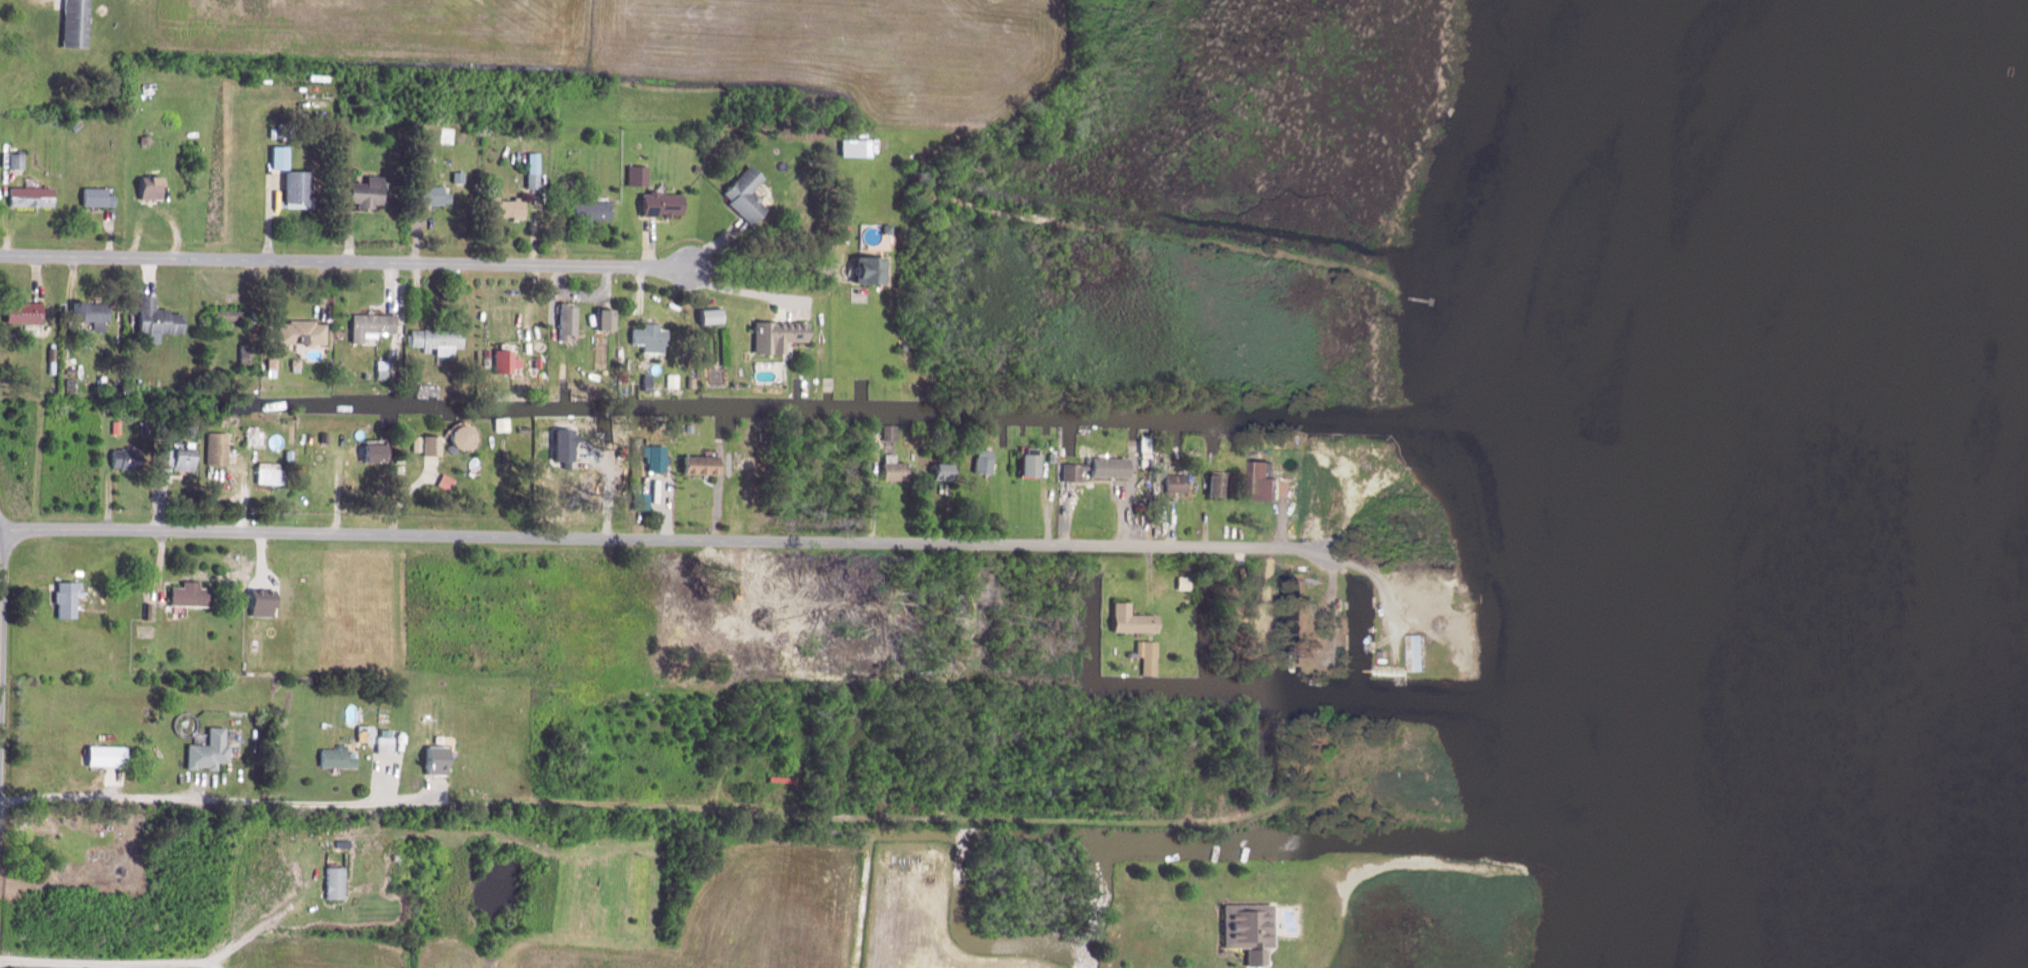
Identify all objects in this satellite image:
park: (256, 6)
building: (76, 22)
crop: (670, 44)
building: (76, 127)
building: (286, 131)
building: (446, 135)
building: (145, 139)
building: (858, 147)
building: (282, 157)
building: (18, 161)
building: (698, 168)
building: (535, 172)
building: (639, 175)
building: (460, 177)
building: (565, 183)
building: (298, 187)
building: (153, 188)
building: (369, 192)
building: (433, 195)
building: (749, 195)
building: (33, 196)
building: (99, 198)
building: (664, 204)
building: (510, 207)
road: (6, 208)
building: (591, 210)
road: (155, 211)
road: (270, 216)
building: (889, 228)
road: (535, 229)
road: (347, 231)
road: (416, 234)
road: (112, 235)
road: (565, 236)
road: (648, 242)
road: (716, 243)
road: (345, 260)
road: (763, 268)
building: (873, 269)
road: (148, 274)
road: (36, 277)
road: (392, 287)
road: (251, 289)
road: (323, 289)
road: (416, 291)
road: (745, 291)
road: (640, 294)
road: (70, 295)
road: (584, 297)
pier: (1416, 297)
road: (534, 300)
road: (555, 301)
building: (25, 313)
building: (93, 314)
building: (226, 314)
building: (713, 317)
building: (158, 319)
building: (609, 319)
building: (569, 321)
building: (373, 324)
building: (303, 332)
road: (401, 334)
building: (779, 336)
building: (652, 337)
building: (441, 338)
building: (487, 352)
building: (248, 354)
building: (53, 360)
building: (507, 361)
building: (273, 363)
building: (296, 363)
building: (538, 363)
building: (71, 370)
building: (382, 370)
road: (564, 376)
building: (648, 380)
building: (673, 381)
building: (692, 382)
pier: (634, 387)
building: (428, 389)
road: (394, 393)
building: (504, 425)
building: (117, 427)
building: (690, 428)
building: (526, 430)
building: (890, 433)
road: (1046, 433)
road: (609, 434)
road: (720, 435)
building: (254, 436)
building: (764, 436)
building: (326, 437)
building: (466, 437)
road: (1134, 440)
building: (871, 441)
building: (1147, 443)
building: (418, 444)
road: (1003, 444)
building: (433, 446)
building: (567, 446)
building: (219, 448)
building: (377, 453)
building: (289, 454)
building: (656, 457)
building: (133, 458)
building: (1054, 458)
building: (182, 459)
building: (401, 459)
road: (597, 459)
building: (986, 462)
building: (1034, 462)
building: (1145, 463)
building: (699, 465)
building: (400, 469)
building: (897, 469)
building: (1099, 469)
building: (946, 471)
building: (271, 473)
building: (1272, 481)
building: (447, 482)
building: (1180, 484)
road: (107, 485)
building: (1220, 486)
road: (338, 490)
road: (718, 491)
road: (609, 492)
road: (1044, 492)
road: (407, 493)
road: (243, 495)
road: (1125, 495)
road: (874, 496)
road: (1003, 499)
road: (160, 500)
building: (642, 502)
road: (664, 509)
road: (947, 515)
road: (1065, 515)
road: (1174, 523)
road: (1206, 524)
road: (1284, 525)
road: (1346, 528)
road: (666, 539)
road: (261, 558)
road: (159, 566)
road: (31, 577)
road: (1151, 578)
building: (1186, 583)
building: (190, 595)
road: (1391, 598)
building: (67, 599)
building: (263, 603)
road: (0, 605)
building: (149, 611)
building: (1134, 620)
building: (1420, 653)
building: (1149, 657)
building: (366, 733)
building: (386, 742)
building: (211, 752)
building: (108, 756)
building: (338, 758)
building: (438, 761)
road: (385, 778)
road: (112, 783)
road: (202, 786)
road: (437, 788)
road: (222, 800)
road: (893, 817)
building: (344, 844)
building: (398, 858)
building: (337, 883)
crop: (919, 911)
crop: (717, 919)
building: (1251, 931)
road: (248, 936)
crop: (317, 953)
road: (105, 960)

